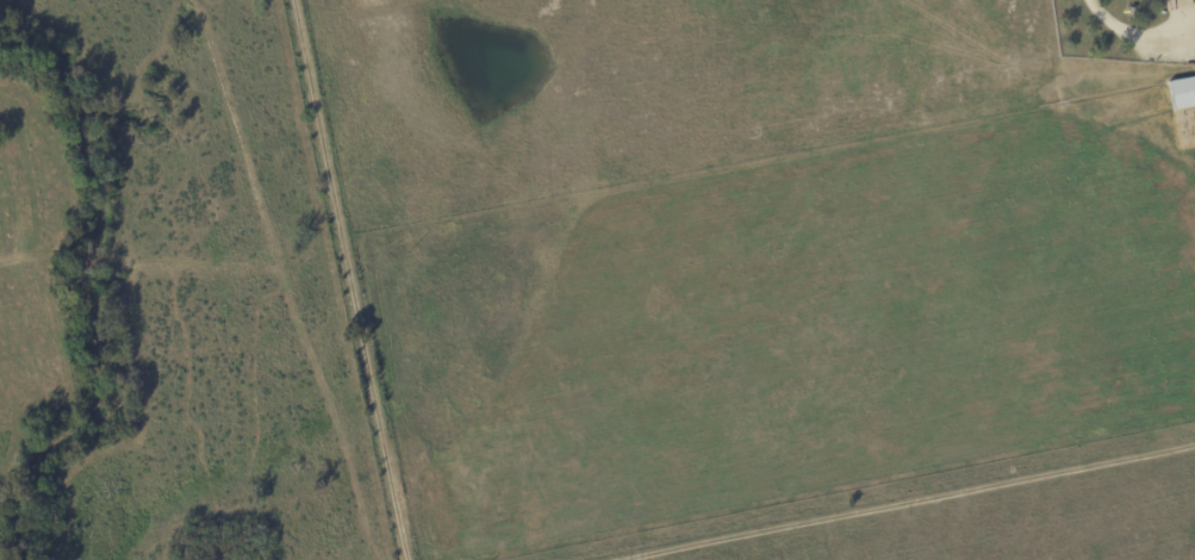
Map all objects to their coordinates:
building: (1180, 93)
road: (353, 285)
road: (896, 505)

